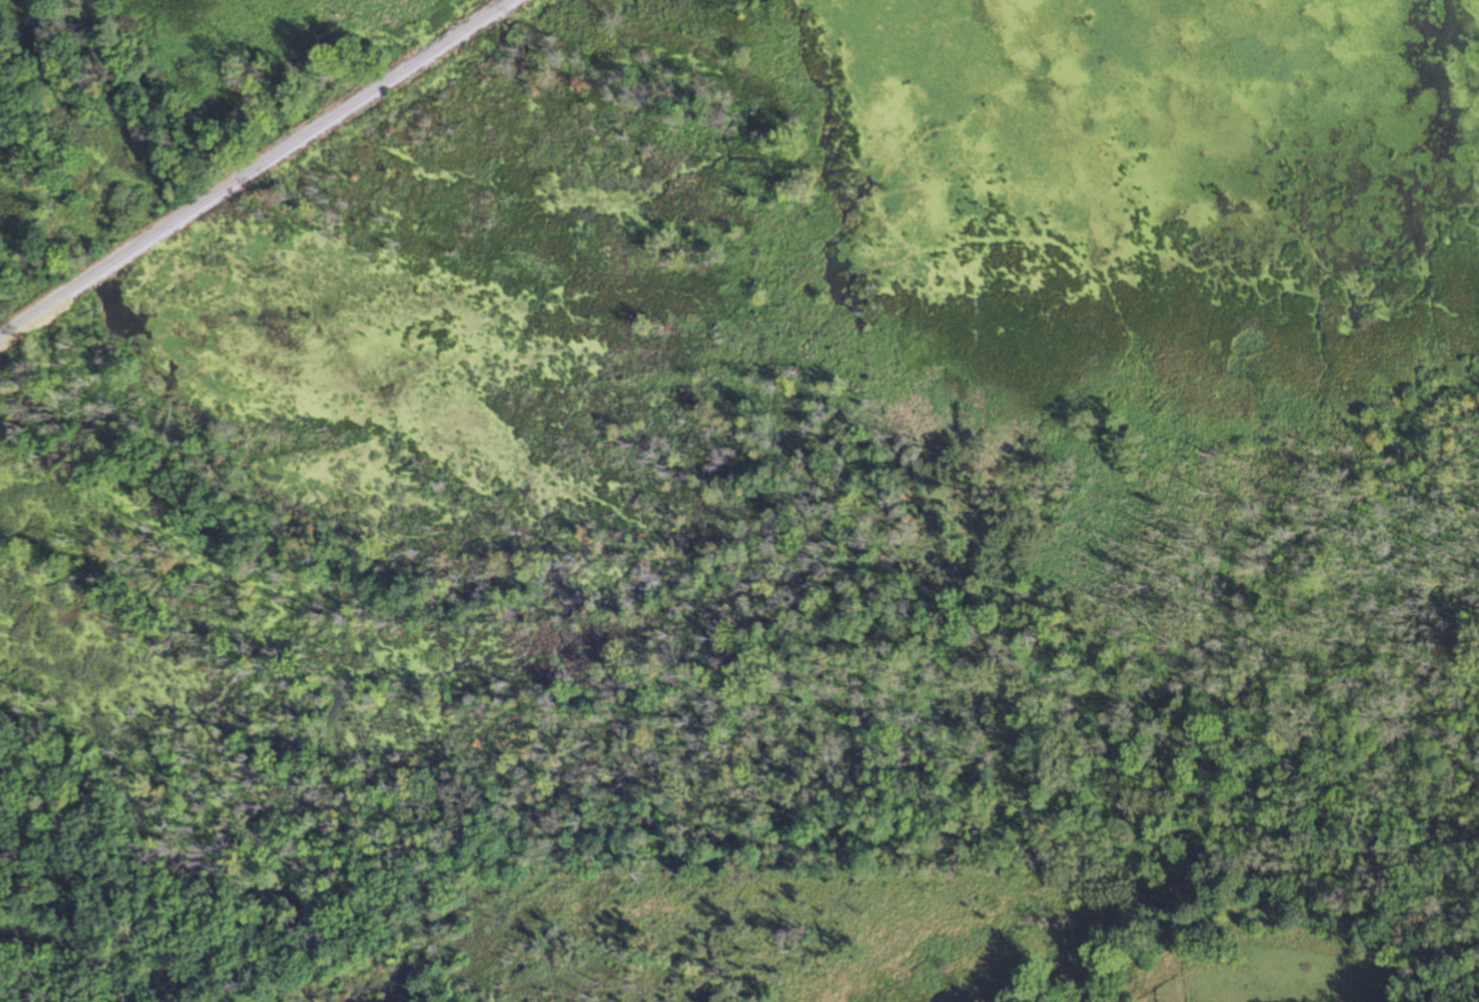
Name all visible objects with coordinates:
railway: (254, 167)

